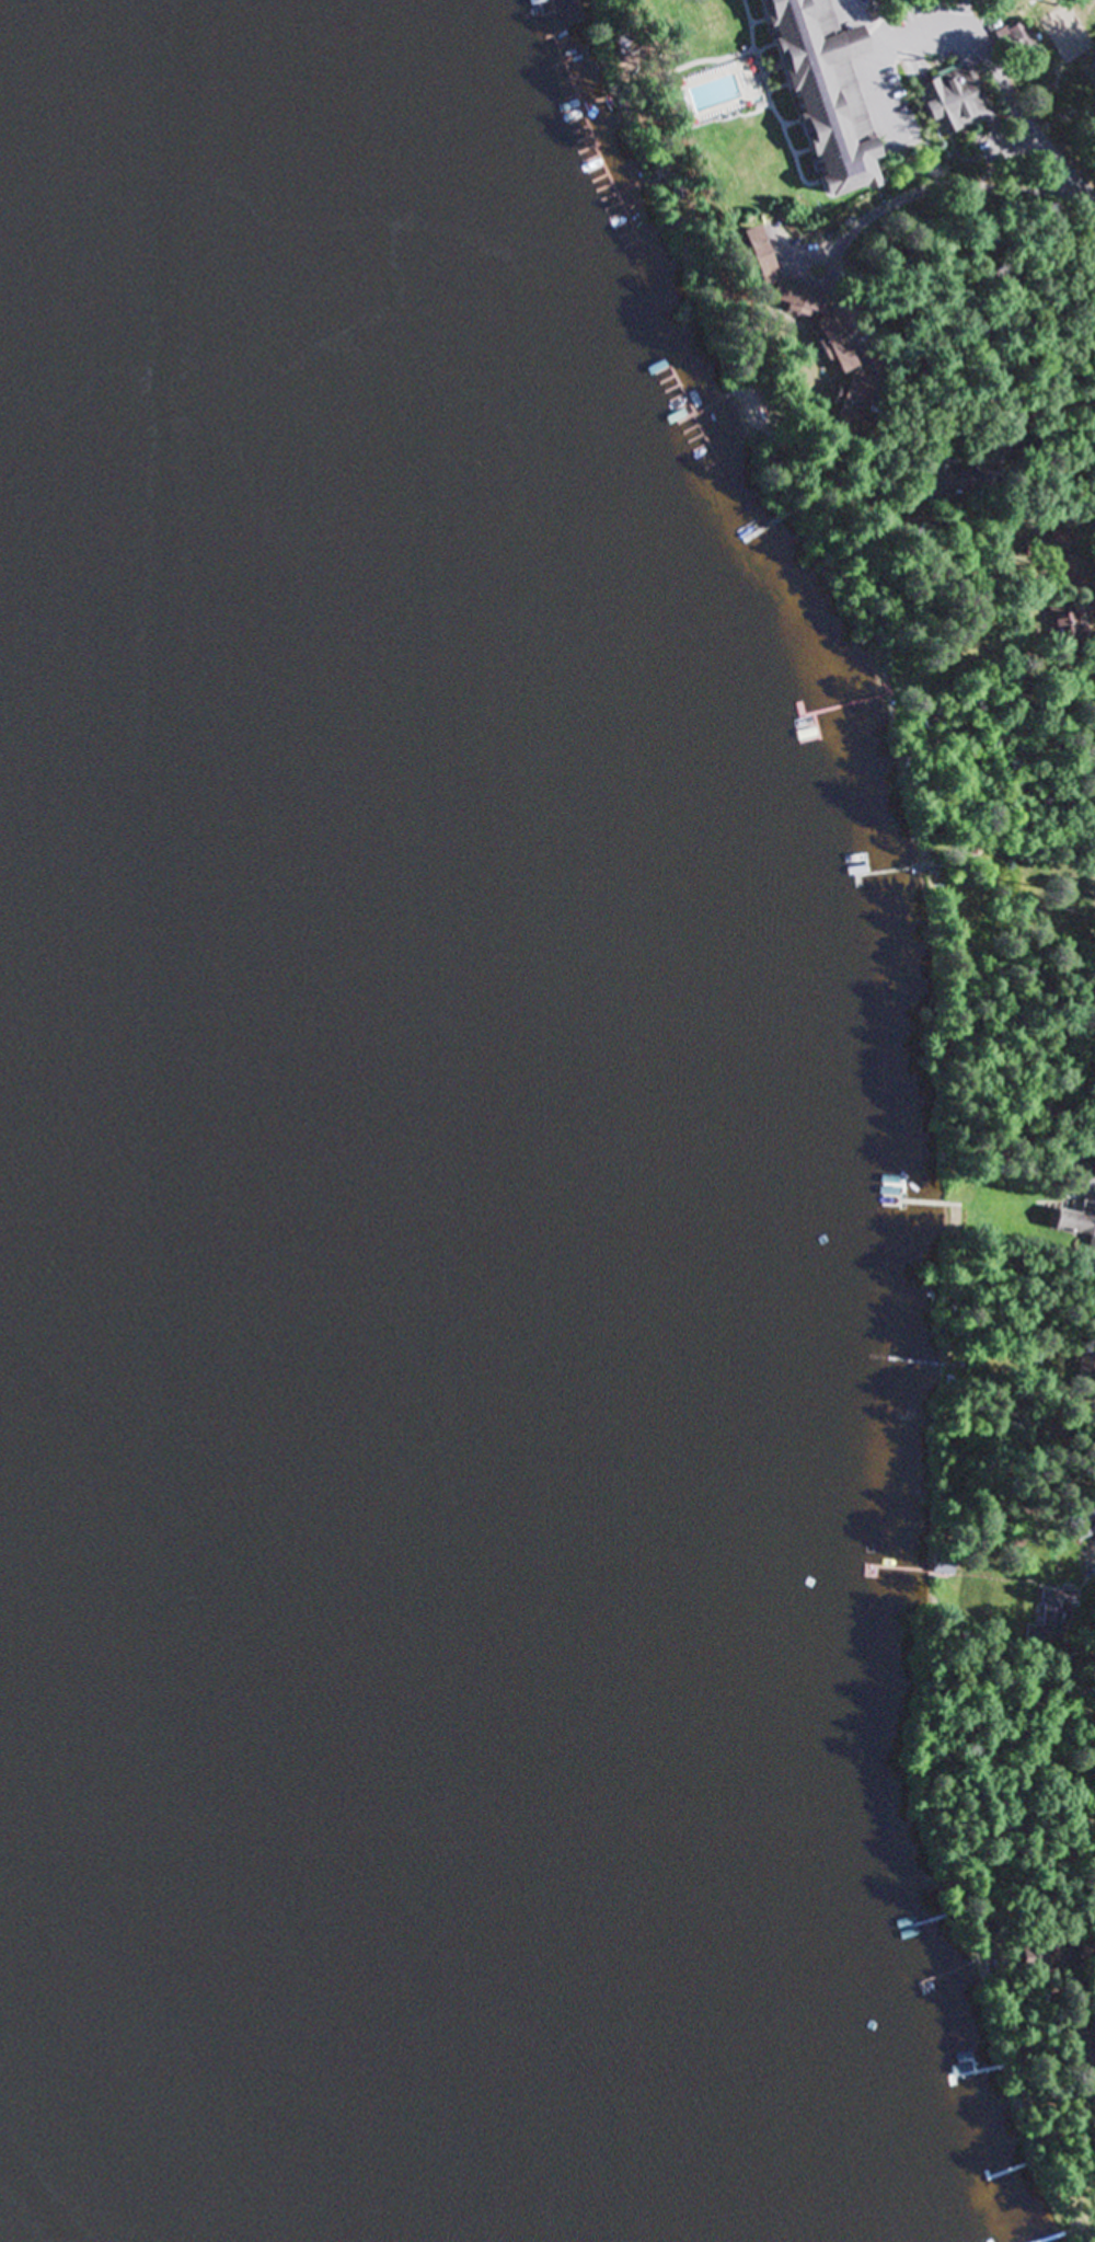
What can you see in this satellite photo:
building: (980, 0)
park: (1062, 31)
building: (710, 36)
building: (1007, 42)
building: (815, 88)
building: (941, 100)
road: (1018, 122)
building: (789, 303)
building: (840, 402)
building: (952, 482)
building: (1050, 556)
building: (1064, 625)
building: (1077, 1211)
building: (1088, 1382)
building: (1084, 1524)
building: (1045, 1955)

